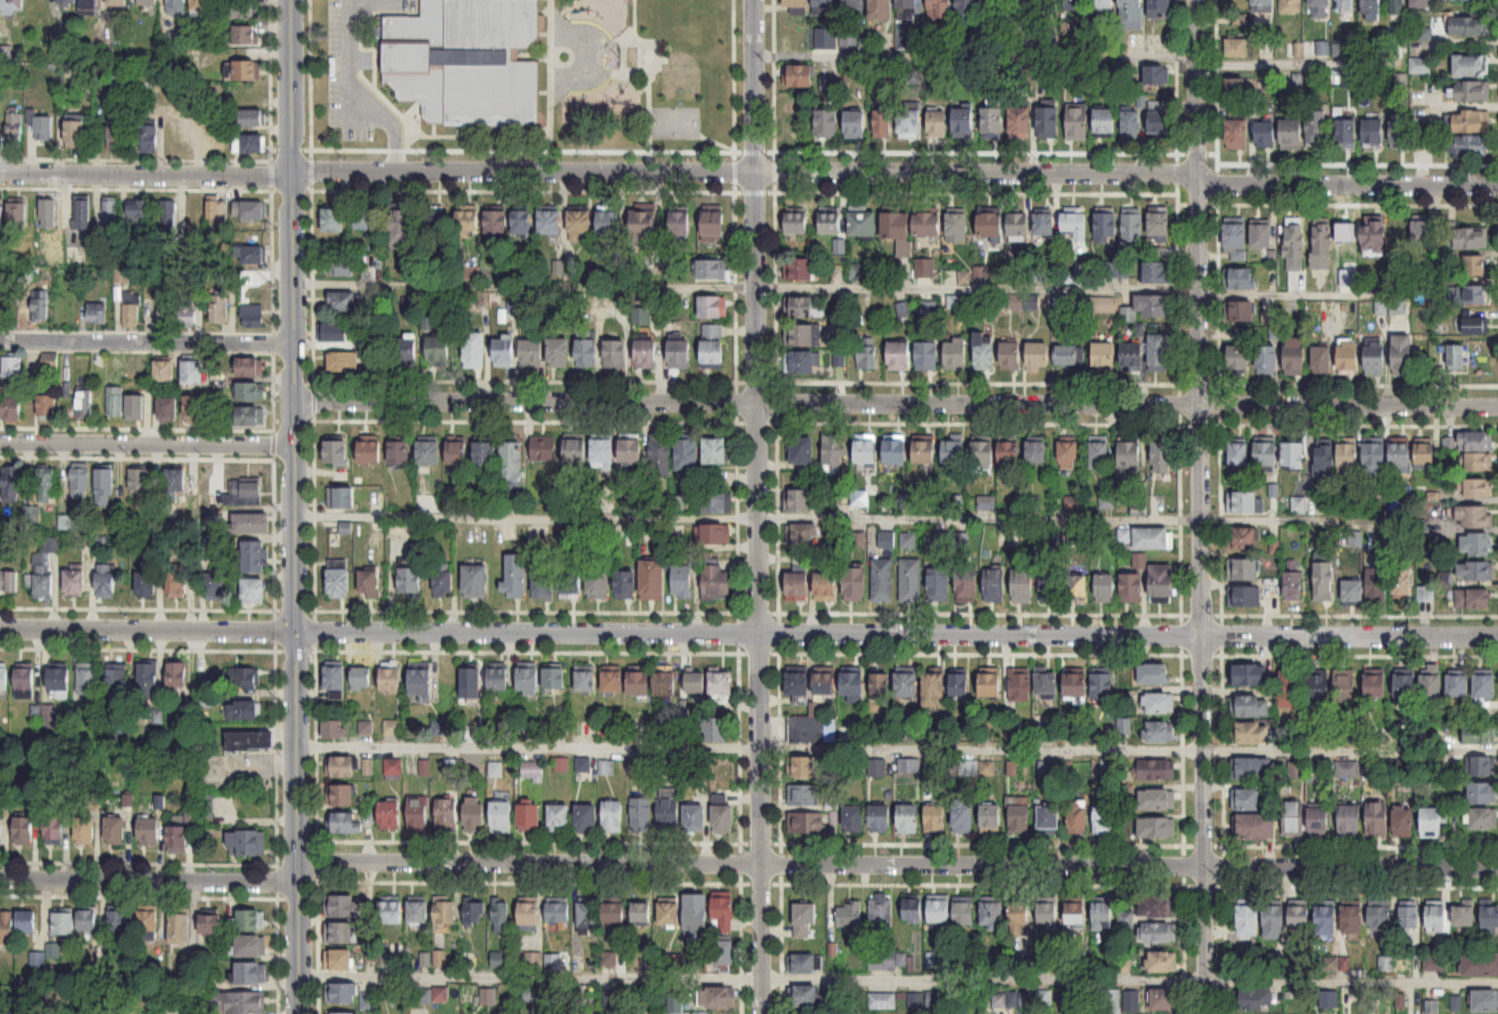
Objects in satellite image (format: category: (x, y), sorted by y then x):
building: (1467, 0)
building: (66, 3)
building: (117, 3)
building: (148, 3)
building: (796, 4)
building: (854, 4)
building: (907, 4)
building: (1421, 4)
building: (12, 5)
building: (825, 5)
building: (993, 5)
building: (89, 6)
road: (363, 6)
building: (1048, 6)
building: (1075, 6)
building: (1104, 6)
building: (1263, 6)
building: (1291, 6)
building: (1345, 6)
building: (176, 7)
building: (200, 7)
building: (1160, 8)
building: (1398, 8)
building: (881, 9)
building: (1320, 9)
building: (244, 10)
building: (968, 10)
building: (939, 11)
building: (1372, 11)
building: (1023, 12)
building: (1132, 15)
road: (635, 22)
building: (1472, 26)
building: (245, 36)
building: (1236, 49)
road: (572, 56)
building: (635, 57)
road: (360, 58)
road: (623, 58)
road: (1074, 58)
road: (374, 62)
building: (467, 62)
building: (1420, 66)
building: (1471, 66)
road: (349, 71)
building: (246, 72)
road: (550, 75)
building: (915, 75)
building: (1156, 76)
building: (799, 77)
park: (644, 81)
building: (1237, 89)
building: (1473, 92)
road: (649, 96)
road: (733, 96)
road: (774, 96)
building: (252, 119)
building: (1160, 120)
building: (911, 121)
building: (1021, 122)
building: (1105, 122)
park: (675, 123)
building: (993, 123)
building: (1078, 123)
building: (1132, 123)
building: (1468, 123)
building: (827, 124)
building: (938, 124)
building: (964, 124)
building: (1049, 124)
building: (856, 125)
building: (883, 125)
building: (43, 130)
building: (1317, 130)
building: (15, 132)
building: (74, 133)
building: (1347, 133)
building: (1374, 134)
building: (117, 135)
building: (1238, 135)
road: (478, 136)
building: (1266, 136)
building: (1292, 136)
building: (1400, 136)
building: (149, 139)
road: (717, 143)
building: (249, 145)
building: (1472, 148)
road: (522, 151)
road: (135, 158)
road: (271, 166)
road: (311, 166)
road: (748, 173)
road: (387, 191)
building: (213, 209)
building: (139, 210)
building: (249, 211)
building: (47, 213)
building: (167, 213)
building: (17, 214)
building: (82, 214)
building: (194, 214)
building: (1, 215)
building: (109, 216)
building: (333, 219)
building: (367, 219)
building: (496, 221)
building: (438, 222)
building: (522, 222)
building: (550, 222)
building: (467, 223)
building: (580, 223)
building: (681, 223)
building: (797, 223)
building: (831, 223)
building: (863, 223)
building: (1020, 223)
building: (1044, 223)
building: (610, 224)
building: (927, 224)
building: (991, 224)
building: (1076, 224)
building: (644, 225)
building: (714, 225)
building: (896, 225)
building: (1107, 226)
building: (1160, 226)
building: (957, 227)
building: (1133, 227)
building: (403, 228)
building: (1422, 232)
building: (1263, 235)
building: (1236, 237)
building: (1377, 237)
building: (1472, 238)
building: (1295, 244)
building: (1323, 246)
building: (252, 255)
building: (1475, 264)
building: (342, 266)
building: (712, 268)
building: (800, 268)
building: (1116, 270)
building: (1158, 271)
building: (120, 275)
building: (1240, 278)
road: (848, 284)
building: (1474, 295)
building: (341, 300)
building: (1103, 304)
building: (713, 306)
building: (802, 306)
building: (1148, 307)
building: (218, 308)
building: (40, 309)
building: (130, 309)
building: (1243, 310)
building: (186, 311)
building: (164, 312)
building: (97, 313)
building: (253, 316)
building: (1476, 325)
road: (136, 332)
road: (292, 333)
building: (800, 334)
road: (145, 342)
road: (272, 344)
building: (713, 346)
building: (474, 349)
building: (503, 350)
building: (531, 350)
building: (406, 351)
building: (438, 351)
building: (985, 351)
road: (136, 352)
building: (558, 352)
building: (587, 352)
building: (1159, 352)
building: (615, 353)
building: (646, 353)
building: (956, 353)
building: (680, 354)
building: (1105, 354)
building: (1011, 355)
building: (1133, 355)
building: (1296, 355)
building: (1405, 355)
building: (899, 356)
building: (928, 356)
building: (1067, 356)
building: (868, 357)
building: (1039, 357)
building: (1349, 357)
building: (1457, 357)
road: (312, 358)
building: (1240, 358)
building: (1376, 358)
building: (1268, 359)
building: (1323, 359)
building: (50, 361)
building: (341, 361)
building: (805, 361)
building: (12, 366)
building: (136, 366)
building: (249, 366)
building: (163, 370)
building: (191, 372)
building: (250, 391)
road: (271, 391)
road: (312, 400)
building: (115, 401)
road: (896, 402)
building: (84, 403)
building: (12, 405)
building: (47, 405)
building: (134, 407)
building: (194, 407)
building: (167, 409)
building: (250, 415)
road: (147, 443)
road: (271, 443)
building: (1449, 443)
building: (575, 448)
building: (896, 448)
building: (543, 449)
building: (631, 449)
building: (802, 449)
building: (1477, 449)
building: (603, 450)
building: (715, 450)
building: (954, 450)
building: (370, 451)
building: (428, 451)
building: (866, 451)
building: (925, 451)
building: (335, 452)
building: (399, 452)
building: (457, 452)
building: (485, 452)
building: (686, 452)
building: (983, 452)
building: (1037, 452)
building: (1266, 452)
building: (1425, 452)
building: (660, 453)
building: (833, 453)
building: (1239, 453)
building: (1401, 453)
building: (1011, 454)
building: (1100, 454)
building: (1069, 455)
building: (1294, 455)
building: (1163, 456)
building: (1376, 456)
building: (511, 458)
building: (1130, 458)
building: (1349, 458)
building: (1325, 461)
building: (141, 478)
building: (80, 481)
building: (175, 482)
building: (11, 483)
building: (46, 484)
building: (104, 486)
building: (1479, 486)
building: (243, 493)
building: (341, 497)
building: (797, 499)
building: (1244, 501)
building: (715, 502)
road: (296, 506)
road: (759, 506)
road: (1202, 507)
building: (31, 513)
road: (313, 513)
building: (1474, 515)
road: (749, 516)
building: (66, 522)
building: (251, 522)
building: (716, 533)
road: (273, 534)
building: (803, 536)
building: (1243, 537)
building: (1153, 538)
building: (858, 539)
building: (886, 539)
building: (908, 540)
building: (1476, 543)
building: (254, 556)
building: (1140, 561)
building: (1244, 568)
building: (1476, 570)
building: (45, 572)
building: (514, 574)
building: (339, 579)
building: (652, 579)
building: (106, 580)
building: (883, 580)
building: (911, 580)
building: (1403, 580)
building: (8, 581)
building: (474, 581)
building: (1324, 581)
building: (74, 582)
building: (410, 582)
building: (444, 582)
building: (682, 582)
building: (967, 582)
building: (598, 583)
building: (625, 583)
building: (716, 583)
building: (1023, 583)
building: (1163, 583)
building: (145, 584)
building: (176, 584)
building: (369, 584)
building: (543, 584)
building: (826, 584)
building: (855, 584)
building: (939, 584)
building: (995, 584)
building: (1377, 584)
building: (798, 585)
building: (1294, 585)
building: (213, 586)
building: (1050, 586)
building: (1078, 588)
building: (1106, 588)
building: (1132, 588)
building: (570, 589)
building: (254, 591)
building: (1354, 591)
building: (1426, 593)
building: (1244, 595)
building: (1474, 598)
road: (293, 609)
road: (274, 629)
road: (313, 629)
road: (748, 634)
road: (293, 649)
building: (1154, 674)
building: (177, 675)
building: (1247, 675)
building: (246, 677)
building: (3, 678)
building: (88, 678)
building: (335, 678)
building: (528, 678)
building: (554, 678)
building: (59, 679)
building: (146, 679)
building: (361, 679)
building: (390, 680)
building: (498, 680)
building: (116, 681)
building: (471, 681)
building: (585, 681)
building: (613, 681)
building: (24, 683)
building: (640, 683)
building: (666, 683)
building: (696, 683)
building: (991, 683)
building: (421, 684)
building: (721, 684)
building: (825, 684)
building: (853, 684)
building: (906, 684)
building: (1046, 684)
building: (880, 685)
building: (960, 685)
building: (1076, 685)
building: (1377, 685)
building: (1406, 685)
building: (1459, 685)
building: (1020, 686)
building: (1103, 686)
building: (1432, 686)
building: (1486, 686)
building: (798, 687)
building: (1347, 687)
building: (1291, 689)
building: (1321, 689)
building: (934, 690)
building: (203, 691)
building: (1160, 704)
building: (1249, 706)
building: (245, 710)
building: (394, 726)
building: (335, 729)
building: (715, 729)
building: (806, 729)
building: (1160, 732)
building: (1250, 733)
building: (1479, 734)
building: (250, 740)
road: (315, 744)
road: (898, 747)
road: (274, 755)
building: (583, 765)
building: (1484, 765)
building: (802, 766)
building: (909, 766)
building: (340, 767)
building: (394, 767)
building: (606, 767)
building: (1250, 769)
building: (1347, 769)
building: (496, 770)
building: (1157, 770)
building: (1297, 770)
building: (532, 771)
building: (1483, 792)
building: (803, 794)
building: (341, 795)
building: (1158, 800)
building: (1247, 800)
building: (668, 813)
building: (418, 814)
building: (447, 814)
building: (502, 814)
building: (641, 814)
building: (1020, 814)
building: (390, 815)
building: (612, 816)
building: (963, 816)
building: (1049, 816)
building: (1078, 816)
building: (475, 817)
building: (529, 817)
building: (694, 817)
building: (991, 817)
building: (559, 818)
building: (723, 818)
building: (854, 818)
building: (880, 818)
building: (1377, 818)
building: (1484, 818)
building: (586, 819)
building: (908, 819)
building: (935, 819)
building: (1293, 819)
building: (1104, 820)
building: (1350, 820)
building: (1319, 821)
building: (1404, 821)
building: (1434, 821)
building: (344, 822)
building: (807, 822)
building: (1256, 827)
building: (54, 828)
building: (1158, 828)
building: (24, 830)
building: (85, 830)
building: (115, 830)
building: (1, 835)
building: (150, 835)
building: (178, 838)
building: (246, 842)
road: (315, 862)
road: (746, 863)
road: (275, 879)
building: (341, 906)
building: (1159, 907)
building: (913, 909)
building: (939, 909)
building: (390, 910)
building: (417, 912)
building: (558, 912)
building: (964, 912)
building: (1048, 912)
building: (474, 913)
building: (501, 913)
building: (613, 913)
building: (642, 913)
building: (669, 913)
building: (696, 913)
building: (881, 913)
building: (1465, 913)
building: (445, 914)
building: (529, 914)
building: (992, 914)
building: (724, 915)
building: (849, 915)
building: (1076, 915)
building: (1020, 916)
building: (1103, 916)
building: (1300, 916)
building: (1490, 916)
building: (1381, 917)
building: (1409, 917)
building: (1437, 917)
building: (588, 918)
building: (804, 919)
building: (249, 920)
building: (1327, 920)
building: (1353, 920)
building: (27, 921)
building: (88, 921)
building: (1126, 921)
building: (117, 922)
building: (1248, 922)
building: (1275, 922)
building: (64, 923)
building: (211, 924)
building: (148, 925)
building: (6, 928)
building: (180, 928)
building: (340, 932)
building: (1159, 933)
building: (251, 946)
road: (315, 948)
building: (724, 953)
road: (276, 955)
building: (338, 960)
building: (502, 961)
building: (1162, 962)
building: (802, 963)
building: (1434, 963)
building: (1480, 965)
building: (250, 973)
road: (899, 978)
building: (340, 993)
building: (526, 995)
building: (803, 996)
building: (488, 997)
building: (716, 997)
building: (1164, 1000)
building: (1254, 1000)
building: (882, 1001)
building: (1485, 1001)
building: (237, 1003)
building: (675, 1003)
building: (341, 1013)

